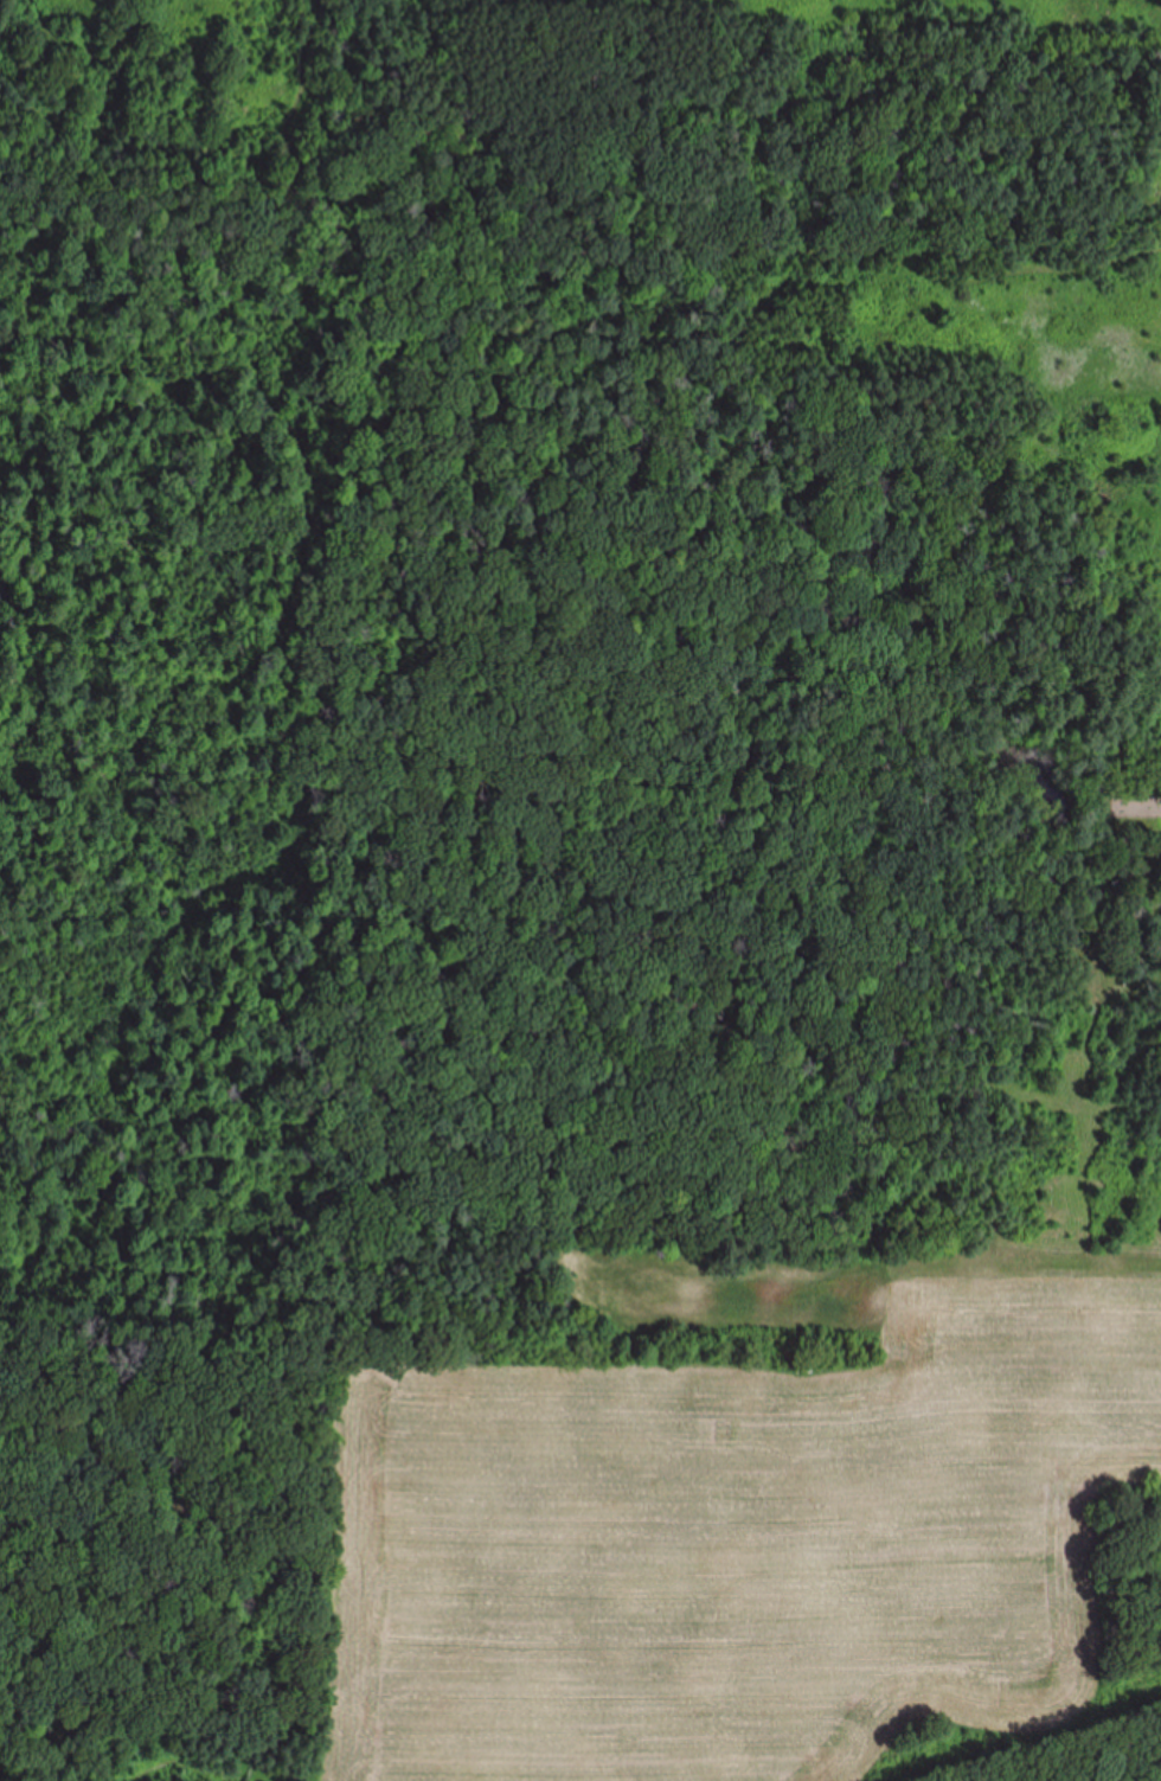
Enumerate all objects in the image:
crop: (732, 1544)

